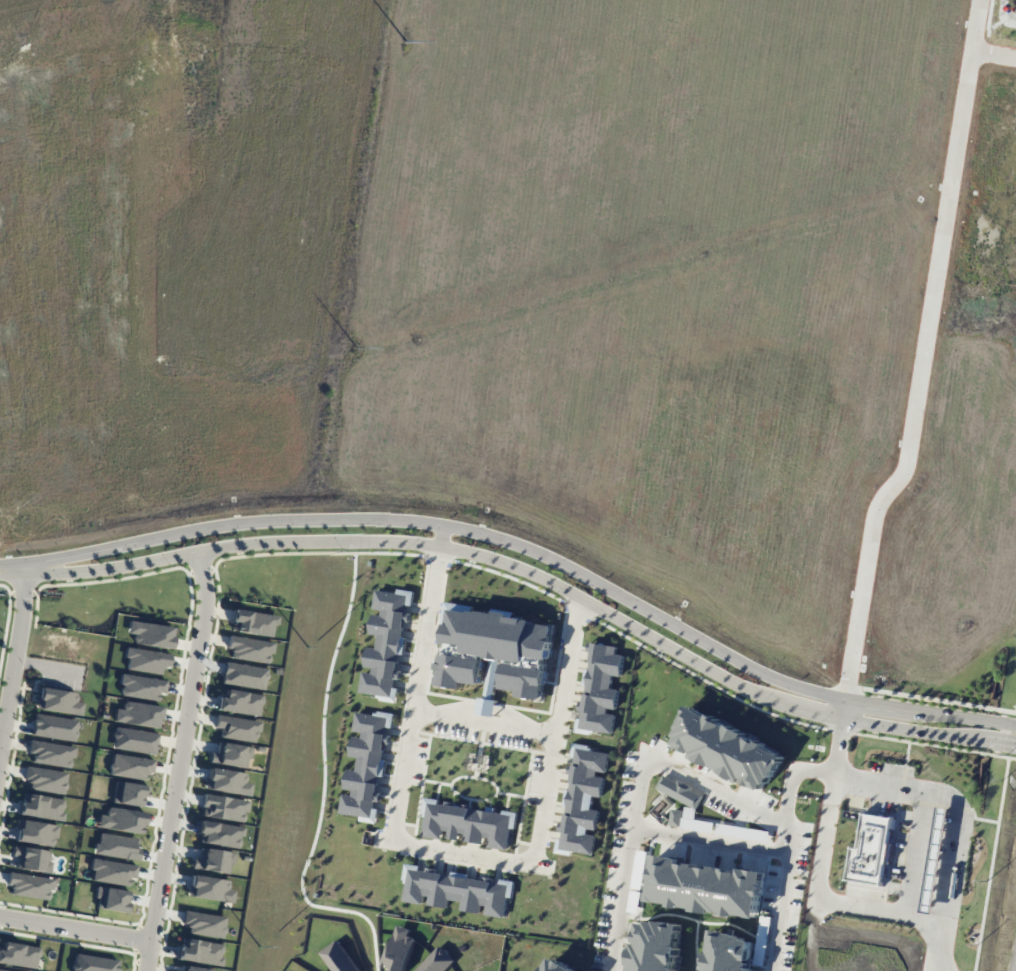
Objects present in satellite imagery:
road: (1004, 13)
road: (975, 25)
power tower: (403, 53)
road: (994, 53)
road: (287, 152)
road: (233, 162)
road: (7, 197)
road: (115, 278)
power tower: (355, 349)
road: (921, 372)
road: (131, 448)
road: (398, 540)
road: (87, 551)
road: (447, 559)
road: (12, 561)
road: (12, 574)
road: (591, 579)
road: (8, 589)
road: (24, 593)
building: (254, 622)
building: (151, 634)
building: (385, 644)
building: (493, 648)
building: (250, 649)
power tower: (307, 649)
road: (15, 654)
building: (145, 660)
building: (492, 673)
building: (244, 675)
building: (141, 687)
building: (600, 689)
road: (847, 692)
road: (931, 698)
building: (59, 701)
building: (240, 702)
road: (791, 707)
road: (1015, 707)
building: (138, 714)
road: (485, 719)
road: (893, 726)
building: (237, 728)
road: (980, 737)
building: (134, 740)
road: (928, 744)
building: (727, 749)
building: (51, 753)
building: (230, 755)
road: (177, 761)
building: (366, 765)
building: (130, 767)
road: (789, 775)
building: (45, 780)
building: (227, 782)
building: (680, 791)
road: (722, 793)
building: (129, 794)
building: (582, 800)
road: (922, 806)
building: (43, 807)
building: (223, 808)
road: (828, 808)
building: (676, 817)
road: (978, 819)
building: (121, 820)
building: (467, 823)
building: (35, 833)
building: (219, 834)
road: (705, 841)
road: (953, 843)
building: (116, 846)
road: (438, 846)
building: (871, 848)
road: (623, 854)
building: (936, 858)
gas station: (936, 858)
building: (32, 859)
building: (213, 861)
road: (991, 864)
building: (112, 872)
building: (29, 886)
building: (707, 887)
building: (210, 889)
building: (457, 890)
road: (779, 896)
building: (112, 899)
road: (877, 908)
building: (204, 924)
road: (73, 925)
road: (938, 944)
building: (655, 946)
power tower: (260, 948)
building: (199, 952)
building: (728, 952)
building: (19, 955)
building: (93, 963)
building: (558, 966)
building: (196, 969)
building: (3, 970)

